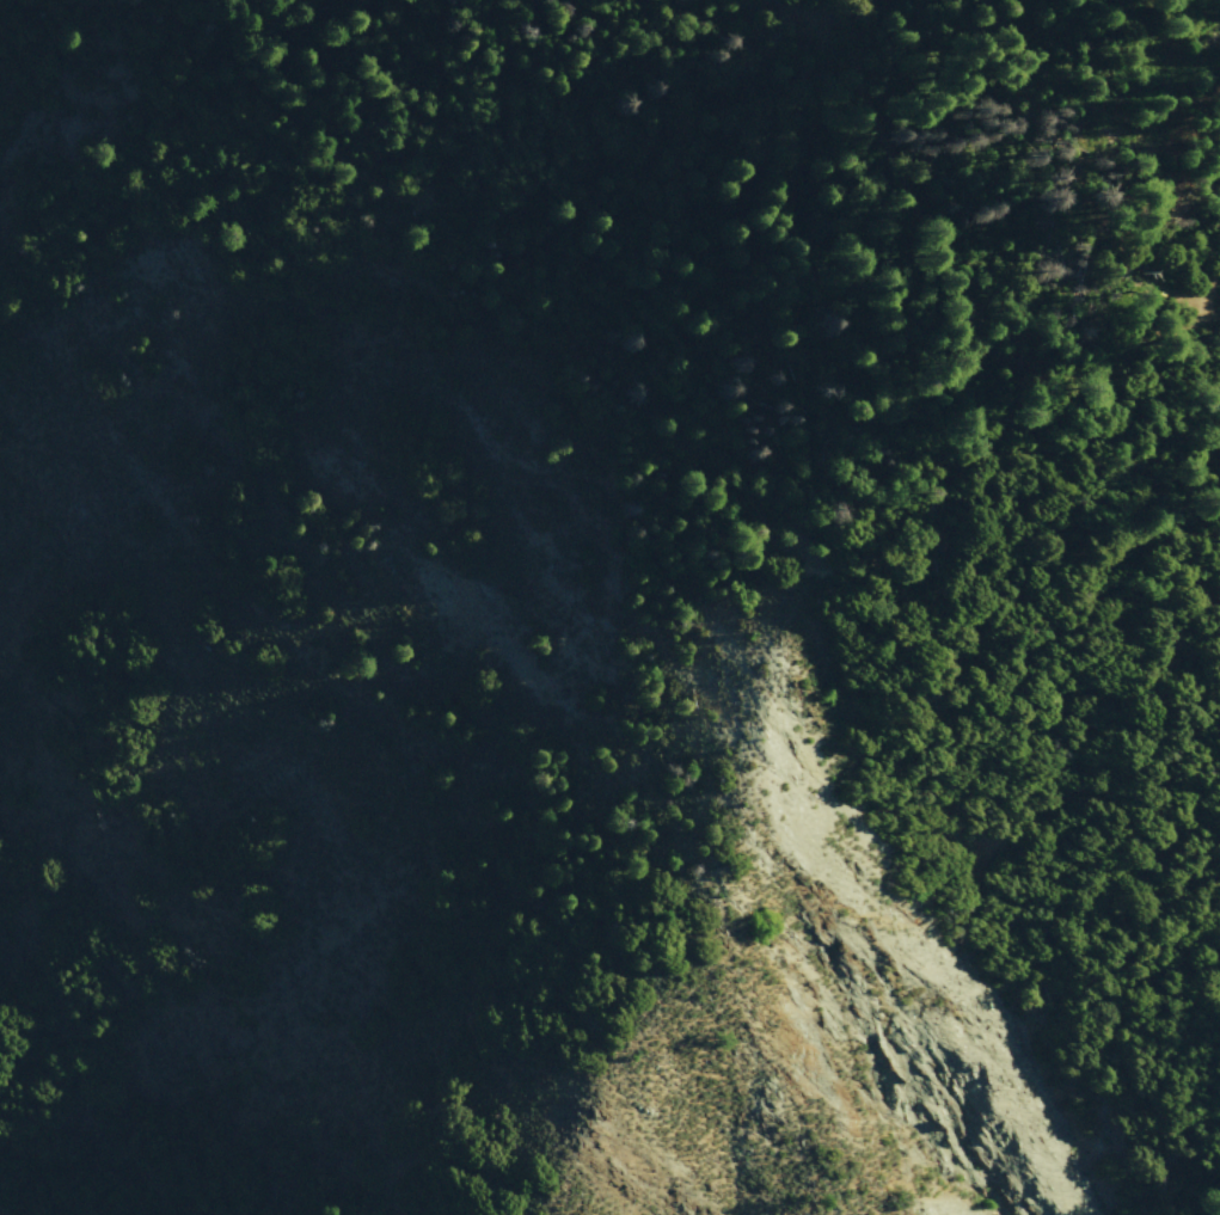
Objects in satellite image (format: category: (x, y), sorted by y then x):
road: (930, 373)
road: (507, 455)

